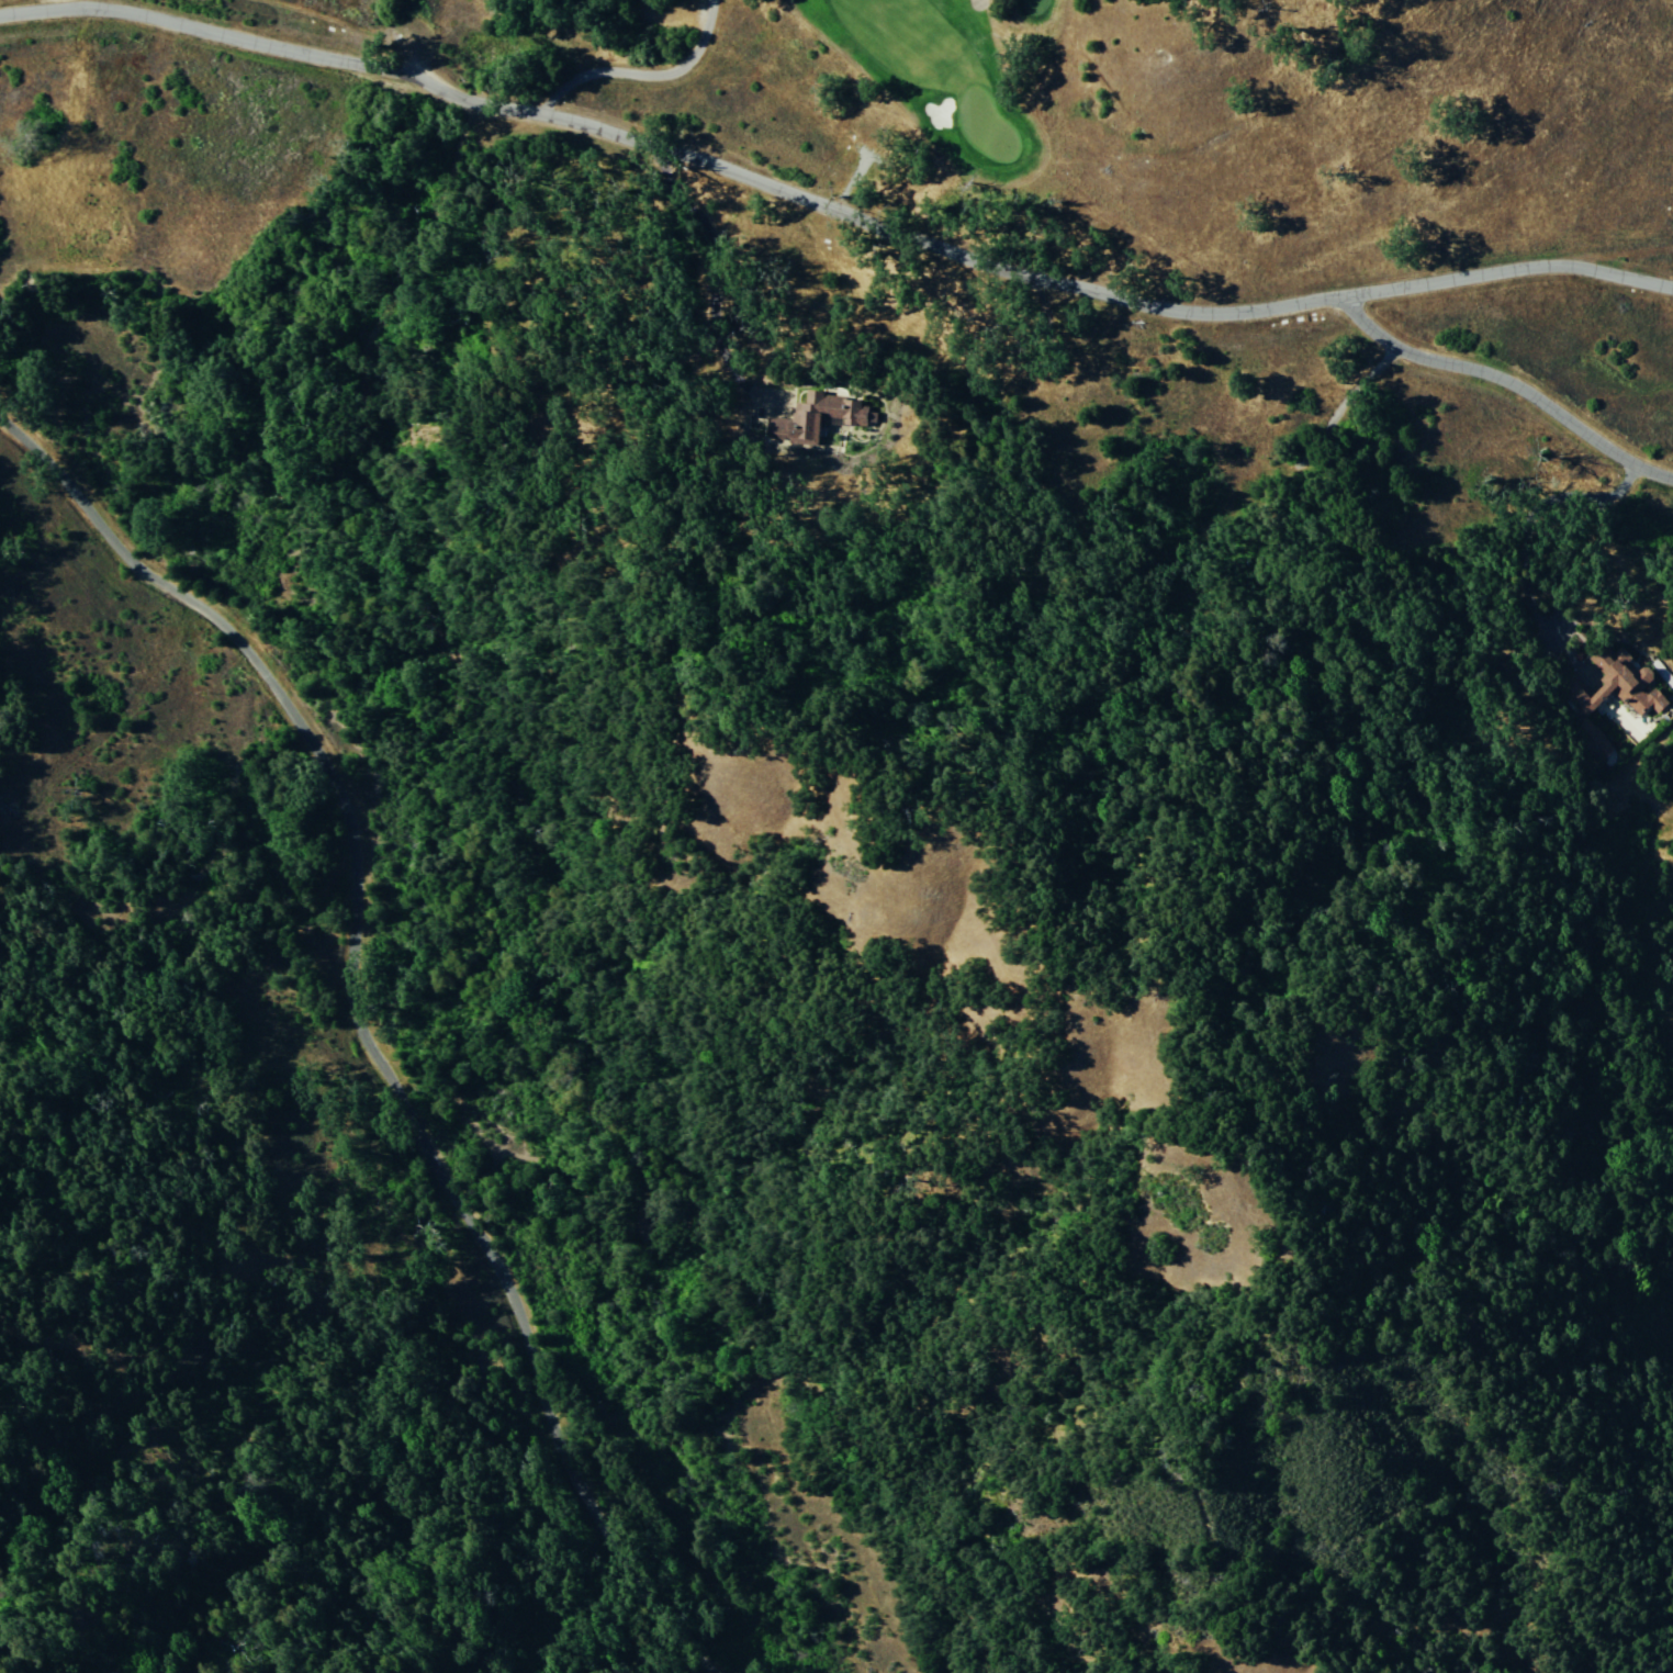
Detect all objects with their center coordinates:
road: (976, 0)
park: (964, 86)
park: (984, 130)
road: (832, 202)
road: (1512, 377)
building: (824, 414)
building: (1647, 703)
road: (367, 1022)

